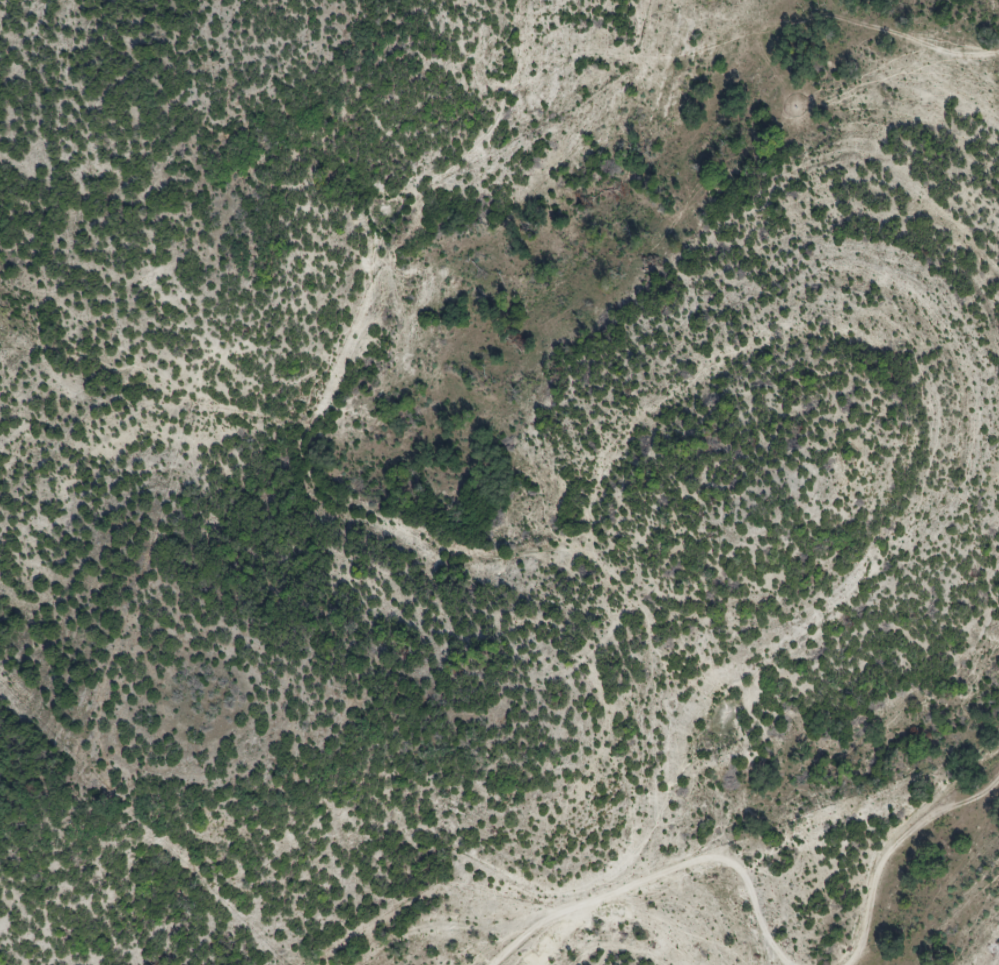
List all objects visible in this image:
road: (894, 849)
road: (663, 877)

